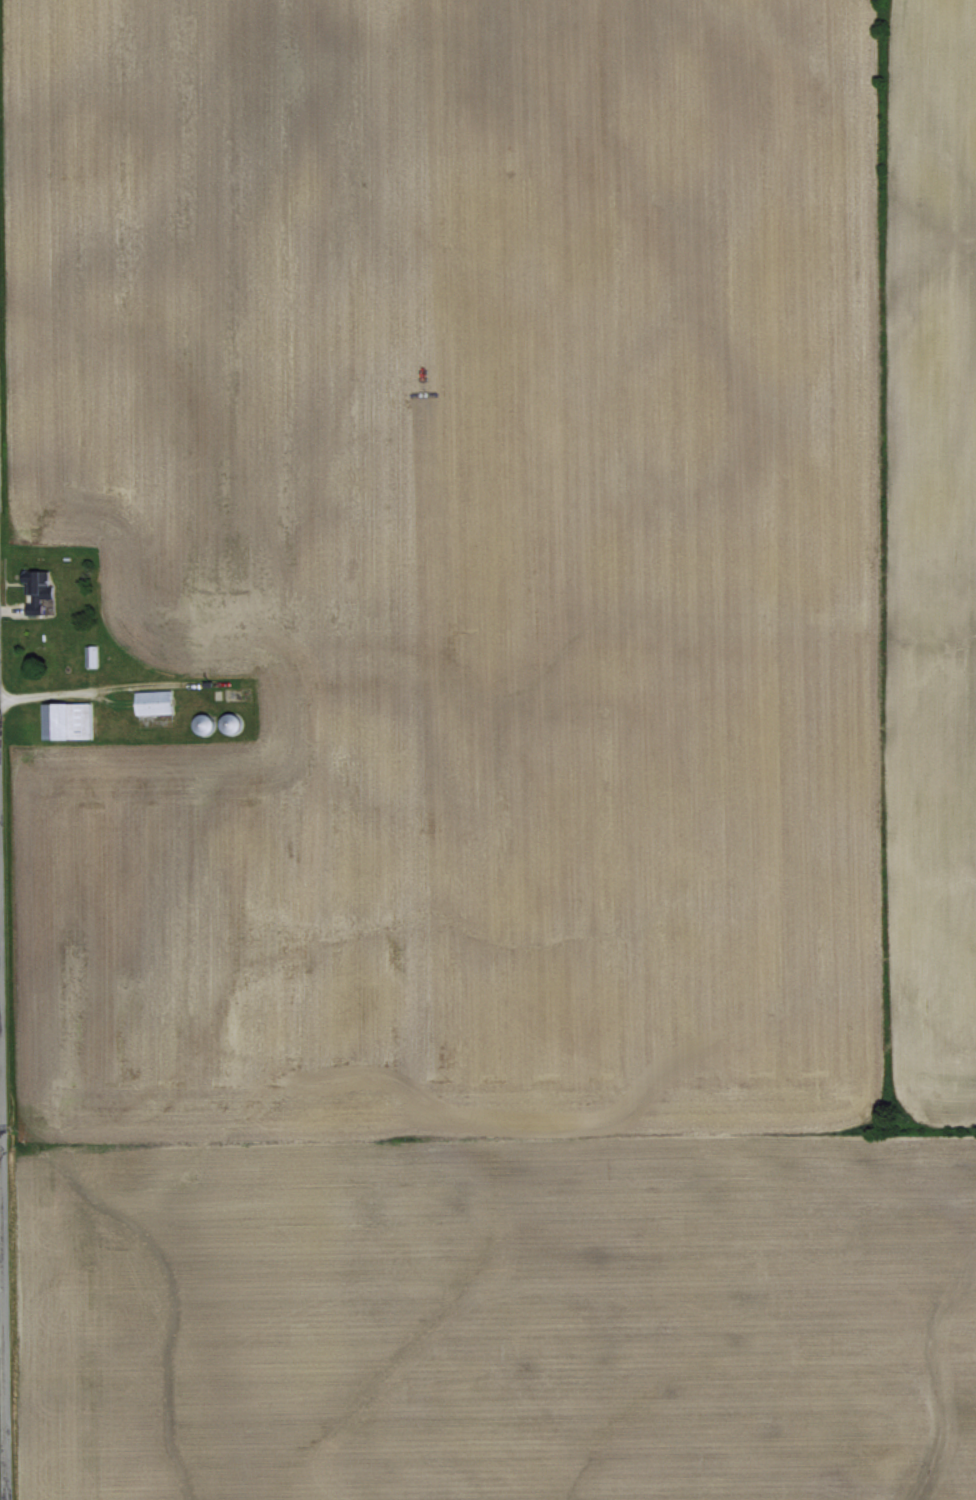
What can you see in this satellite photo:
building: (37, 584)
road: (113, 690)
building: (153, 701)
building: (66, 719)
road: (2, 1370)

